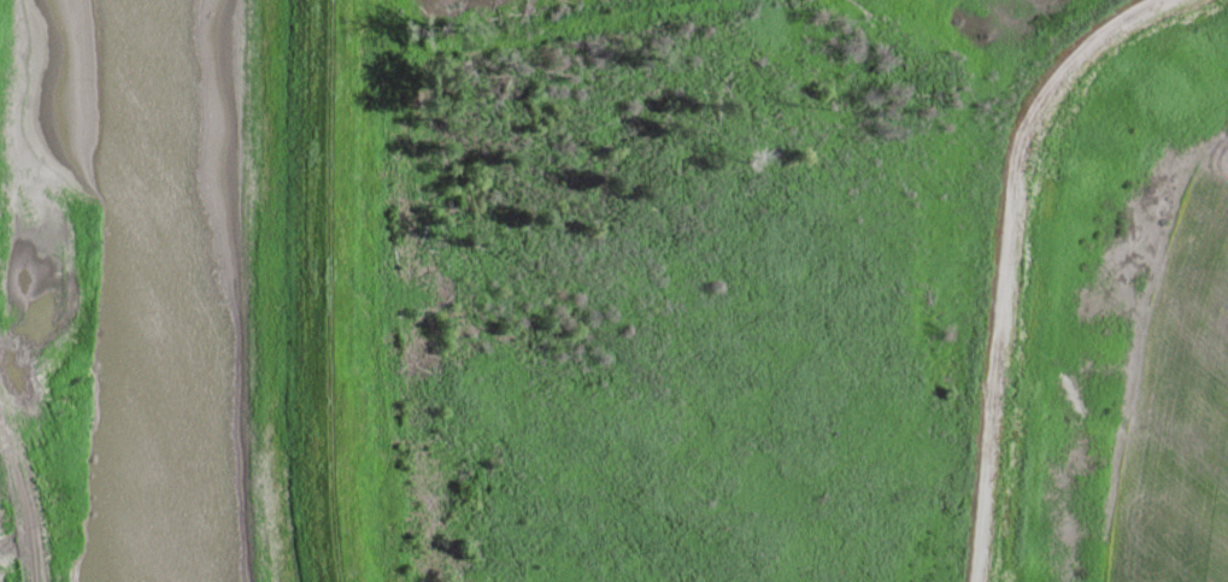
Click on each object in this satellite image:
road: (1005, 259)

